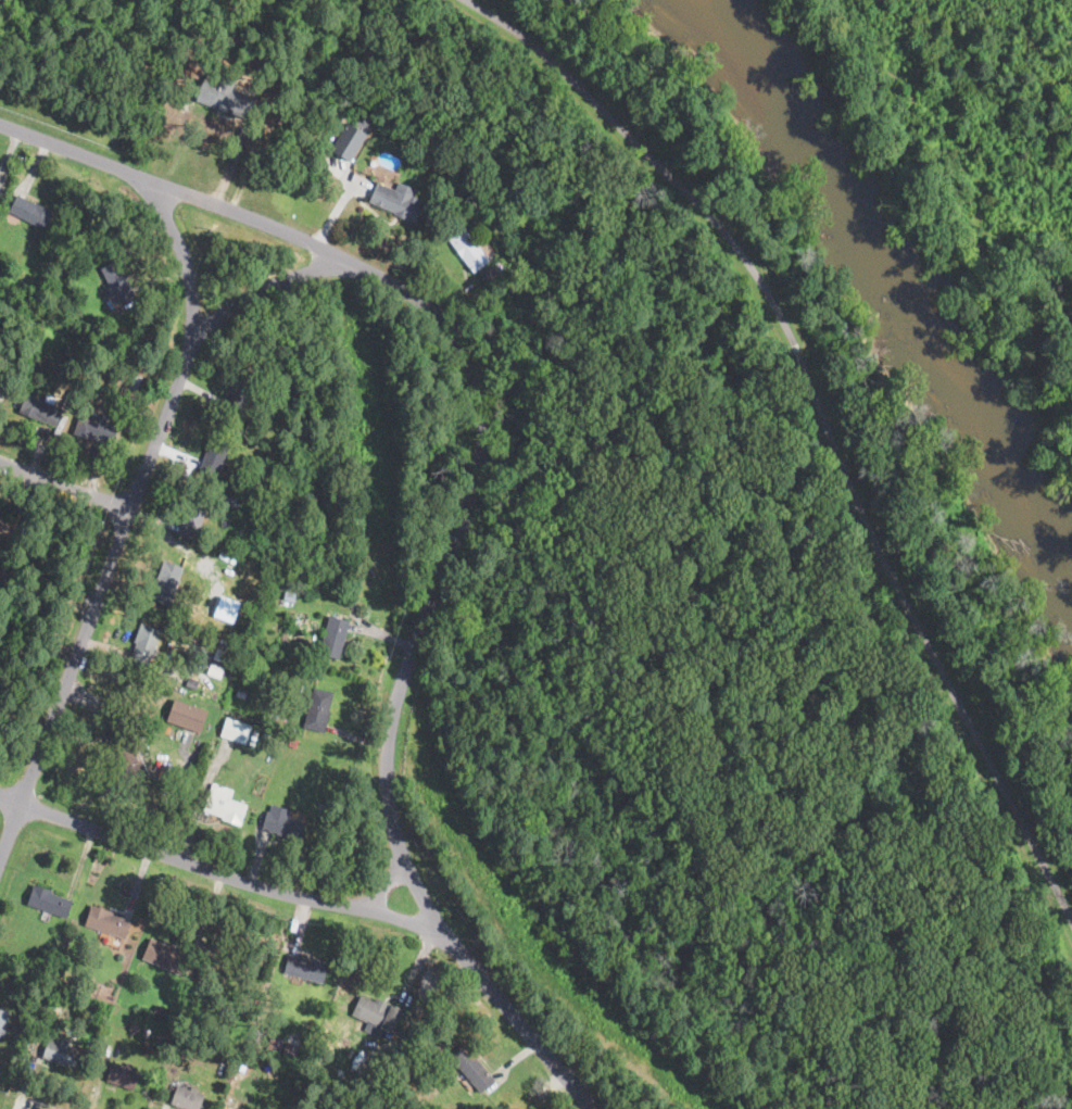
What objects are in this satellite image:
building: (323, 79)
building: (225, 97)
building: (348, 141)
road: (168, 187)
building: (395, 202)
building: (30, 211)
building: (466, 247)
road: (184, 254)
river: (904, 273)
building: (487, 274)
building: (52, 280)
building: (117, 281)
road: (265, 285)
building: (7, 364)
building: (263, 366)
building: (111, 369)
building: (71, 393)
building: (241, 394)
building: (128, 396)
building: (67, 403)
building: (40, 408)
road: (823, 419)
building: (94, 430)
building: (268, 432)
building: (215, 453)
road: (65, 484)
building: (269, 484)
building: (193, 518)
building: (8, 531)
building: (8, 569)
building: (166, 581)
building: (289, 591)
road: (99, 592)
building: (333, 637)
building: (143, 645)
building: (222, 654)
building: (215, 670)
road: (407, 675)
building: (191, 683)
building: (318, 709)
building: (197, 718)
building: (235, 730)
building: (142, 735)
building: (313, 736)
building: (126, 755)
building: (224, 804)
building: (320, 805)
building: (283, 823)
road: (223, 872)
building: (49, 900)
building: (103, 921)
building: (165, 956)
building: (306, 967)
building: (92, 984)
building: (52, 1001)
building: (164, 1012)
building: (377, 1015)
building: (2, 1019)
building: (134, 1025)
building: (144, 1032)
building: (258, 1036)
building: (278, 1044)
building: (290, 1048)
building: (59, 1050)
building: (474, 1067)
building: (377, 1069)
building: (128, 1078)
building: (335, 1094)
building: (187, 1097)
building: (169, 1106)
building: (242, 1107)
building: (228, 1108)

